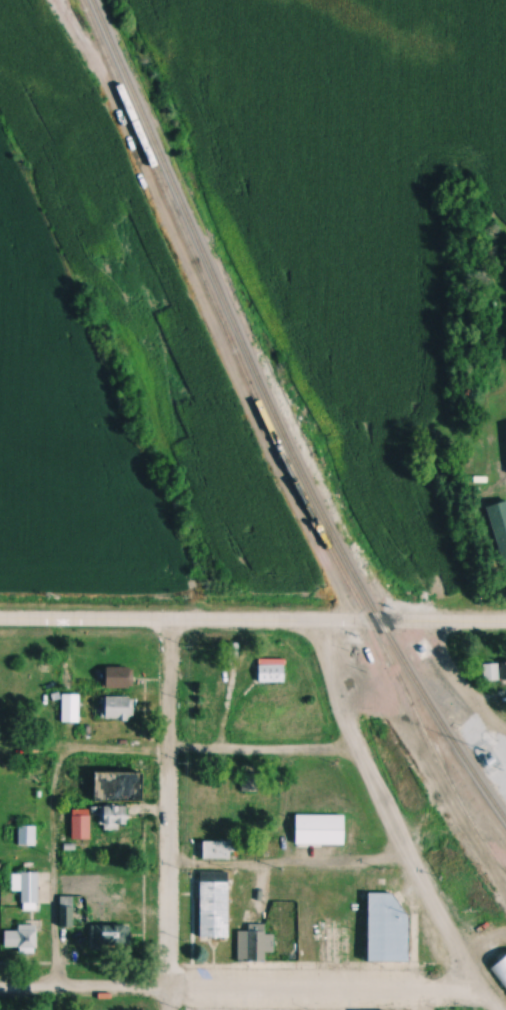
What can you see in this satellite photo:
railway: (266, 393)
building: (505, 428)
railway: (276, 443)
building: (504, 542)
road: (253, 623)
building: (216, 664)
building: (504, 671)
building: (274, 674)
building: (119, 678)
road: (454, 684)
building: (211, 701)
building: (119, 708)
road: (207, 749)
building: (125, 787)
railway: (488, 796)
road: (53, 805)
road: (166, 816)
building: (115, 817)
building: (215, 817)
road: (392, 822)
building: (82, 824)
building: (318, 826)
building: (28, 835)
road: (288, 866)
building: (27, 887)
building: (501, 905)
building: (215, 906)
building: (67, 911)
building: (388, 928)
building: (109, 937)
building: (22, 940)
building: (500, 970)
road: (236, 987)
road: (425, 997)

